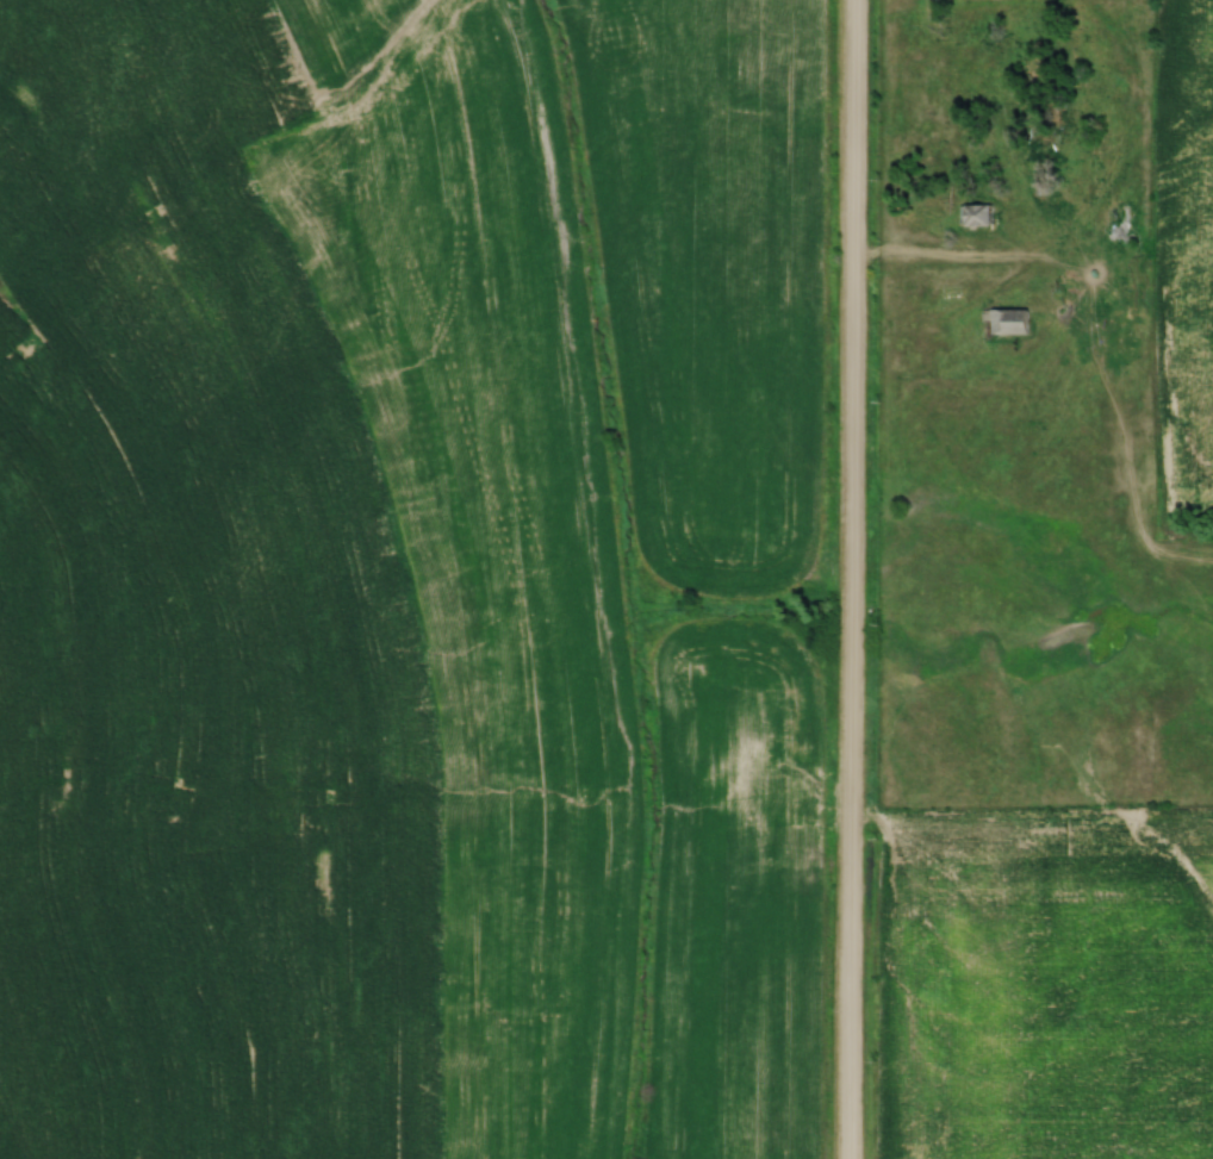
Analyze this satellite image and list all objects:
building: (978, 214)
road: (958, 257)
building: (1007, 320)
road: (850, 579)

